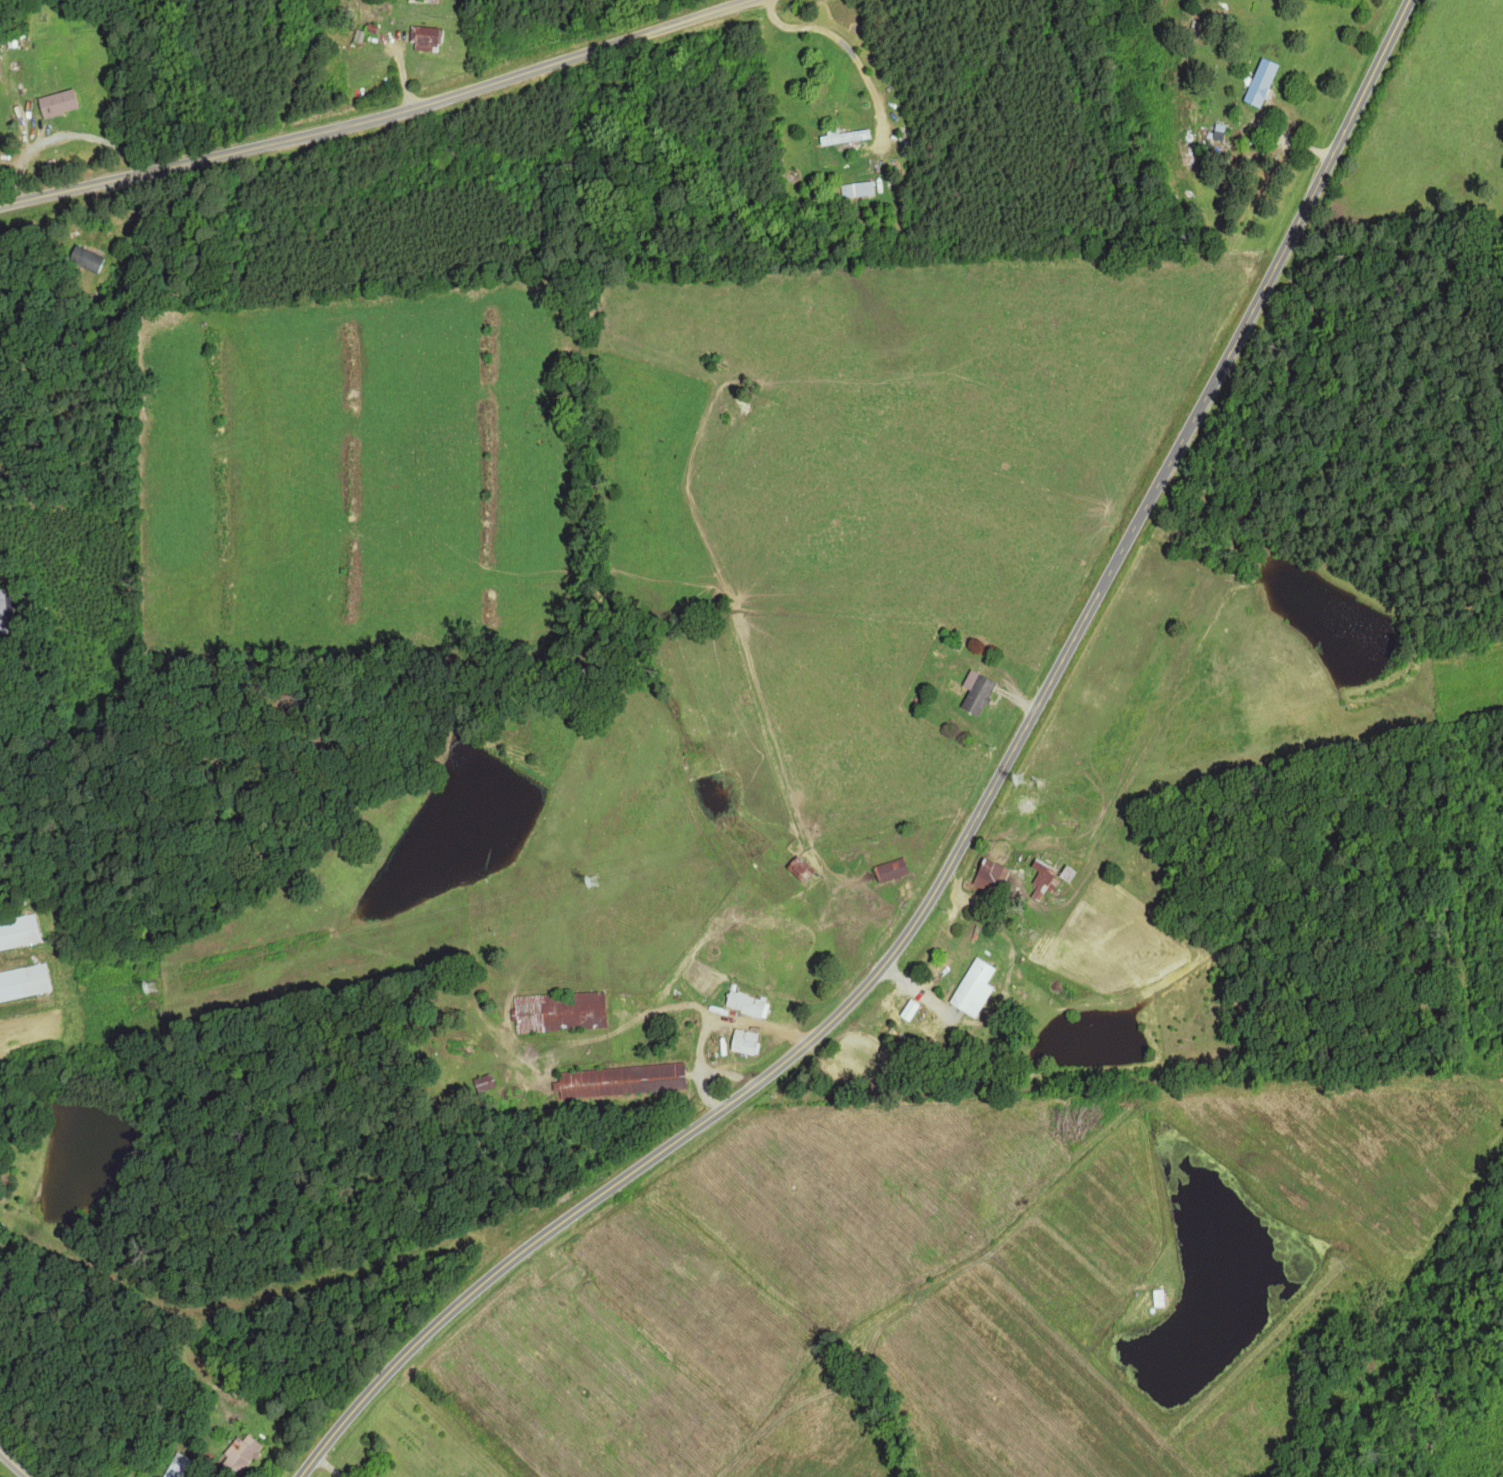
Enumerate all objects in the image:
building: (423, 37)
building: (1258, 82)
building: (55, 102)
road: (371, 112)
building: (841, 136)
building: (856, 189)
building: (84, 258)
building: (2, 601)
building: (974, 692)
power tower: (1016, 777)
road: (967, 831)
building: (797, 869)
building: (890, 870)
building: (1064, 874)
building: (989, 876)
building: (1039, 878)
power tower: (593, 880)
building: (18, 934)
power tower: (150, 989)
building: (971, 989)
building: (745, 1004)
building: (907, 1010)
building: (741, 1041)
building: (620, 1080)
building: (484, 1083)
building: (240, 1454)
road: (16, 1463)

